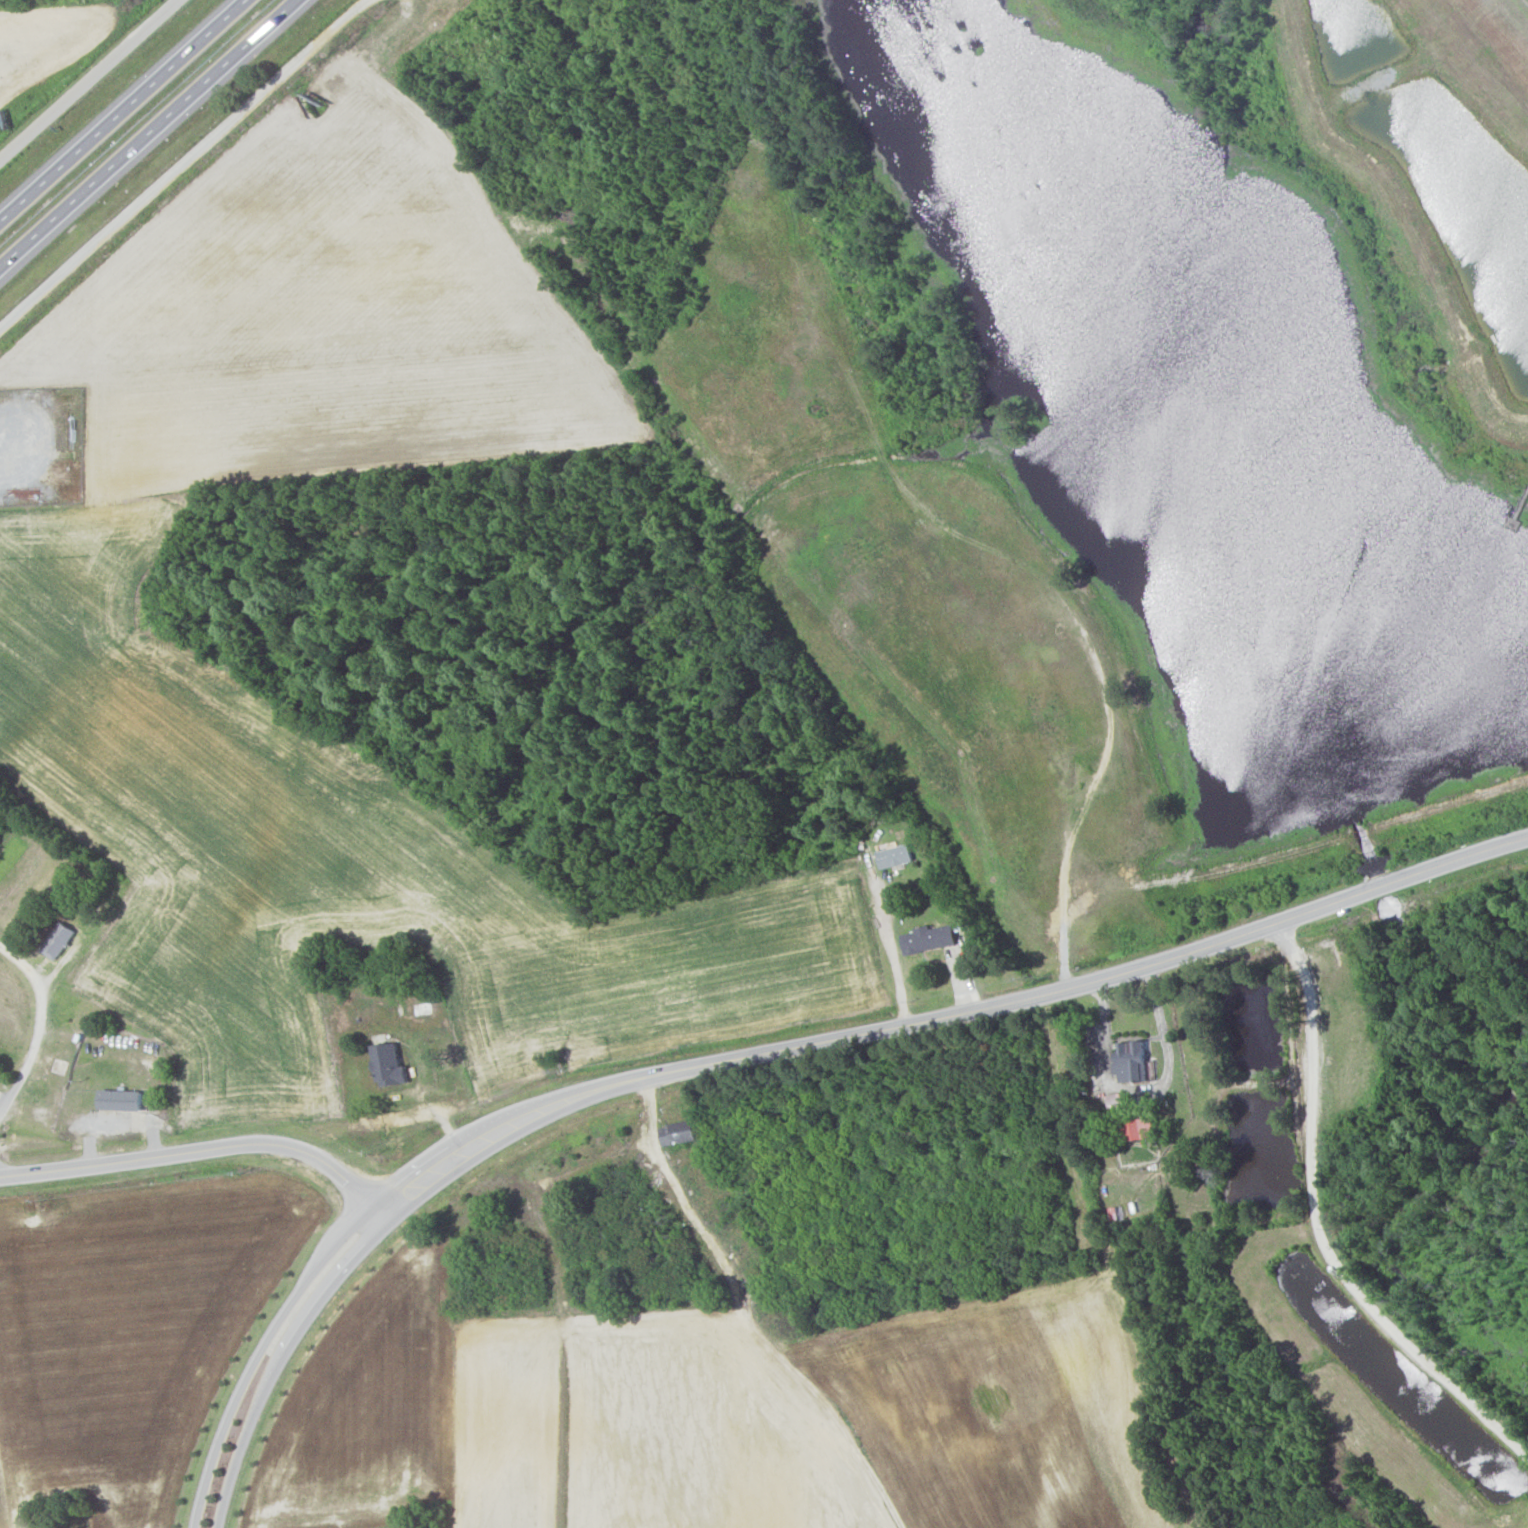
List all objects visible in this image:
road: (396, 1)
road: (91, 82)
road: (118, 112)
road: (149, 132)
road: (187, 167)
road: (1093, 788)
building: (894, 856)
building: (928, 939)
building: (60, 944)
road: (968, 1012)
road: (38, 1026)
building: (1129, 1062)
building: (386, 1065)
building: (117, 1100)
building: (1139, 1129)
building: (676, 1133)
road: (201, 1150)
road: (398, 1201)
road: (1323, 1227)
road: (569, 1267)
road: (1276, 1350)
road: (258, 1352)
road: (278, 1361)

